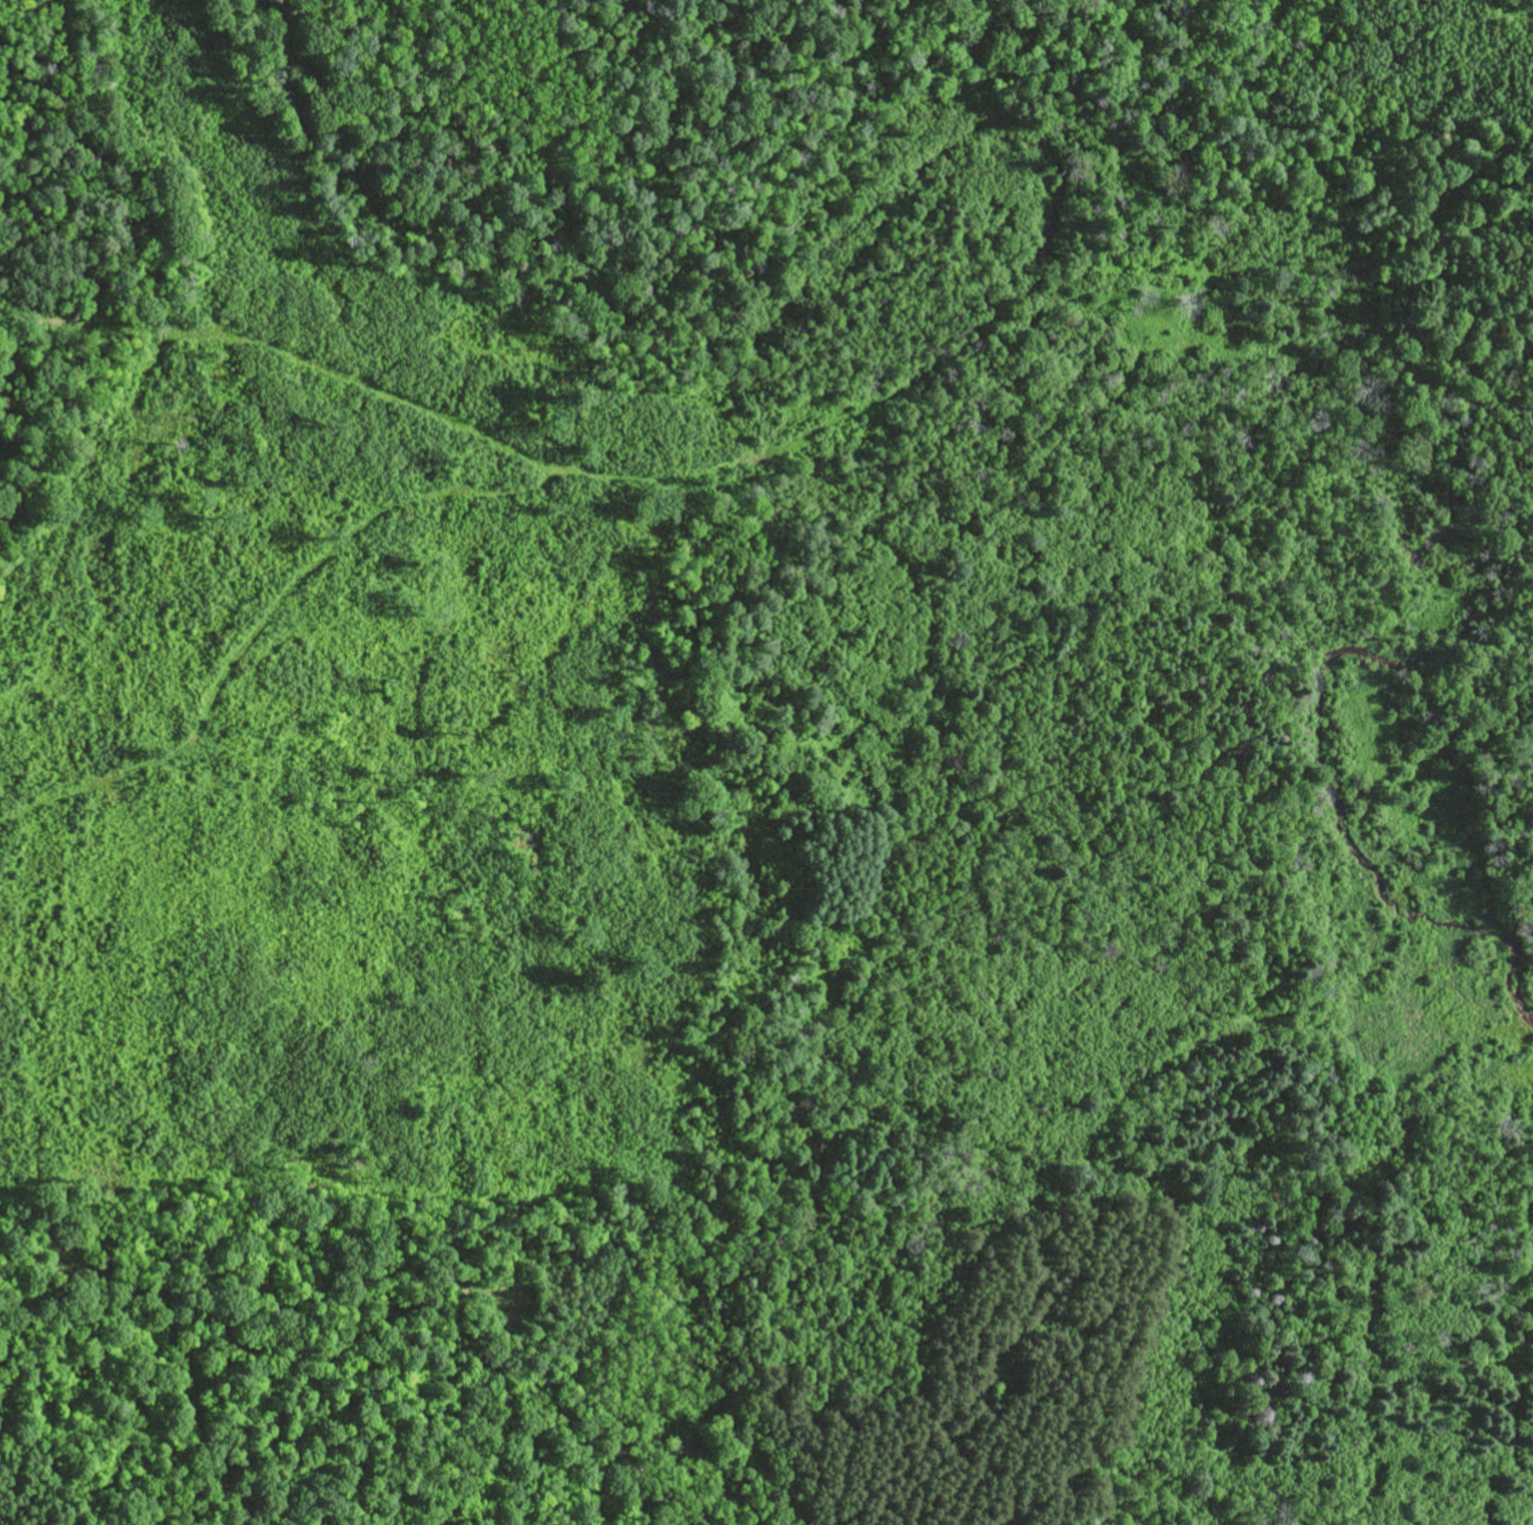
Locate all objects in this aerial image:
road: (1483, 11)
road: (1240, 23)

